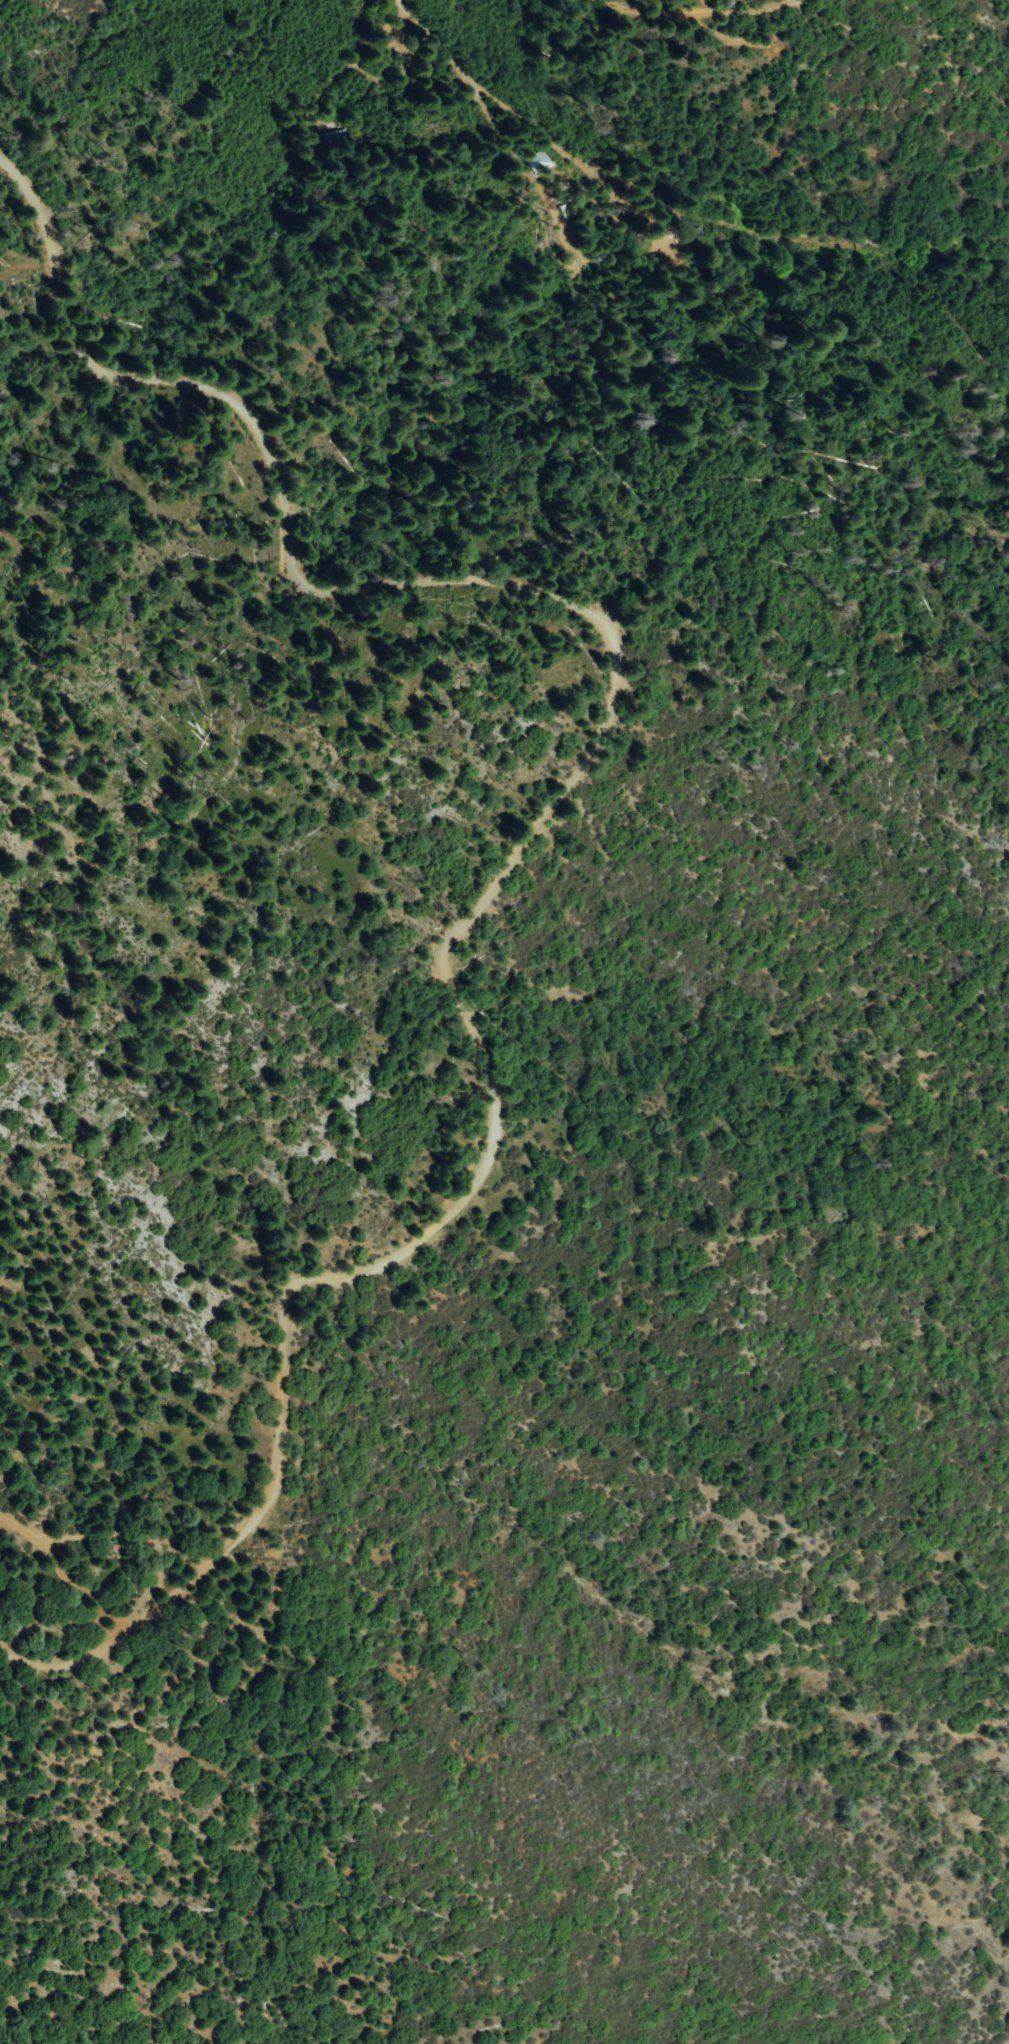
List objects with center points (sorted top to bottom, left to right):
road: (699, 10)
road: (414, 27)
road: (535, 854)

